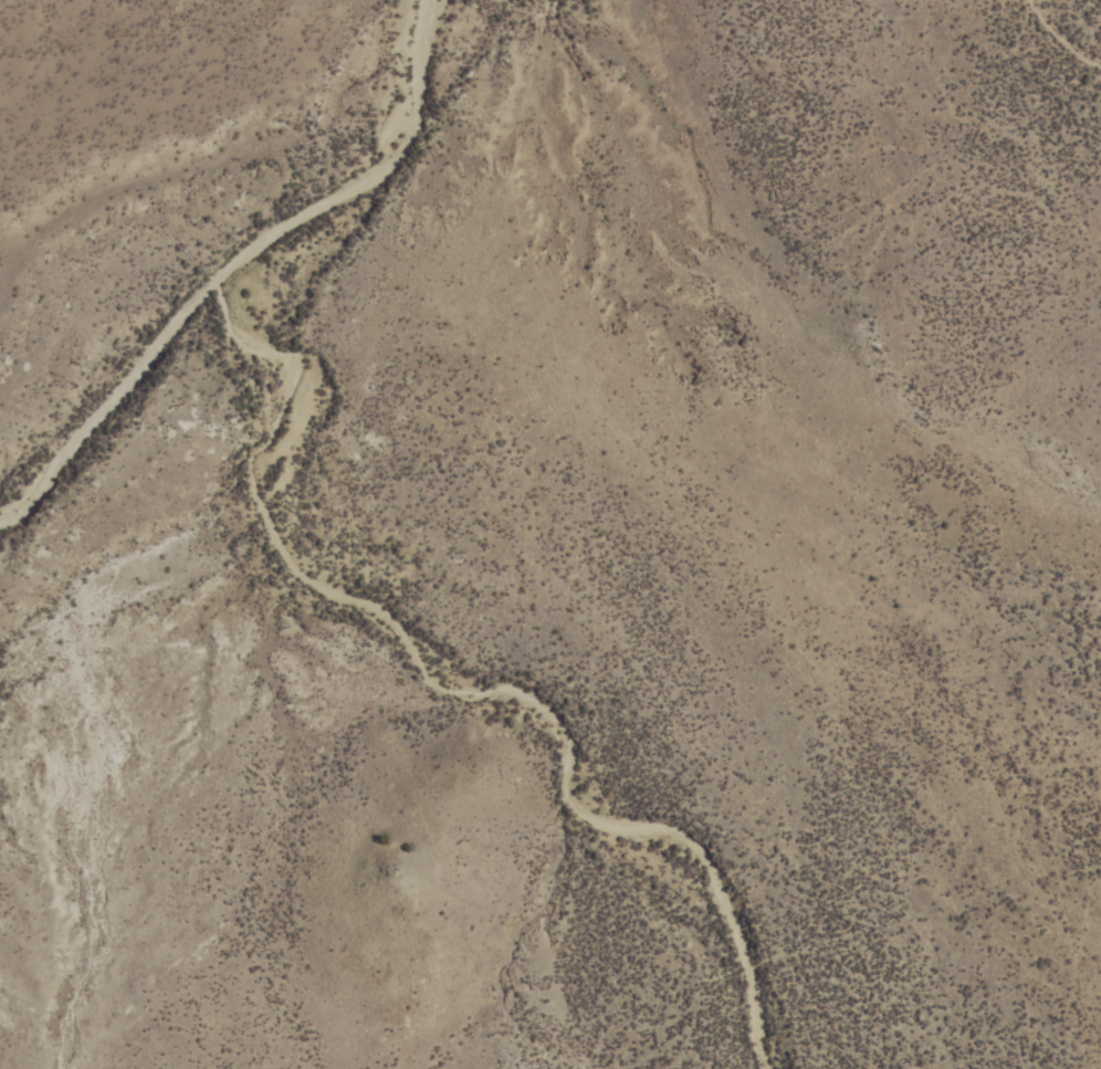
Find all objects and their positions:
river: (240, 271)

